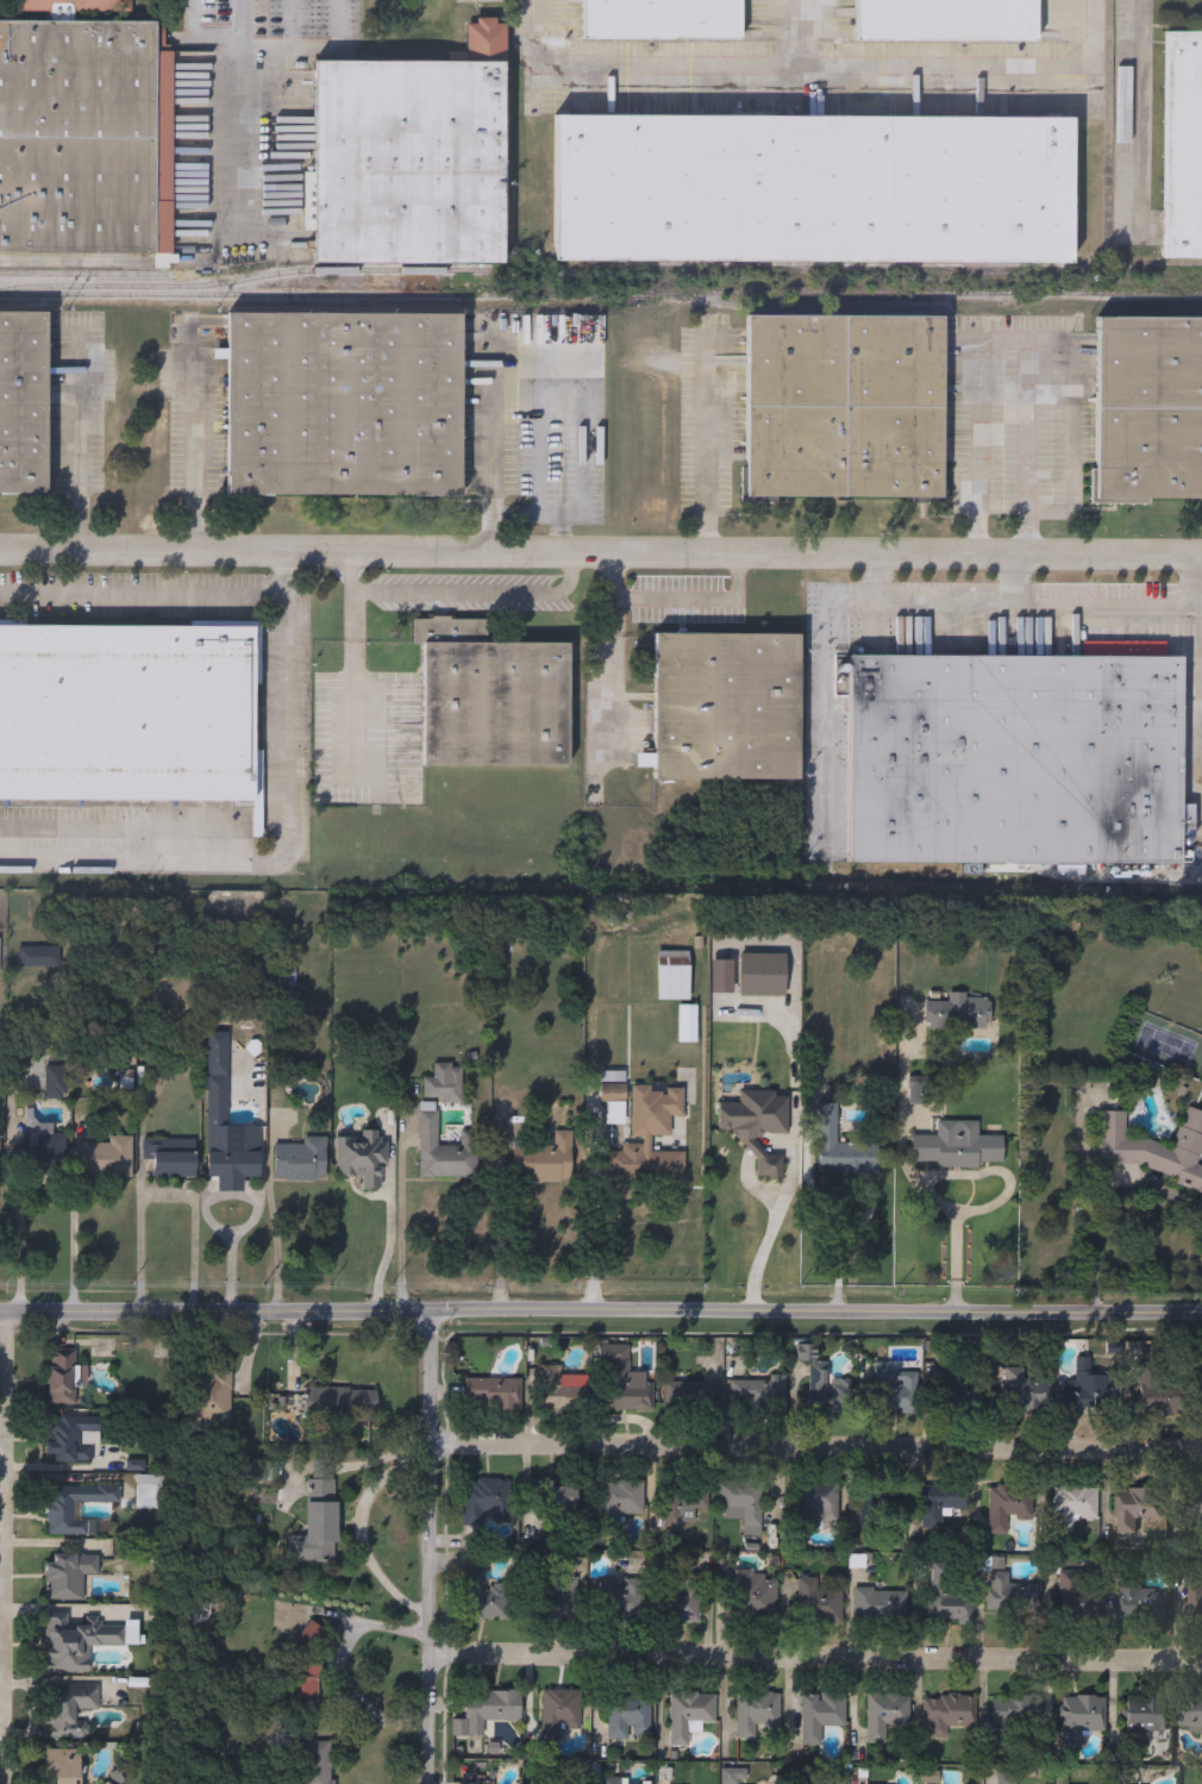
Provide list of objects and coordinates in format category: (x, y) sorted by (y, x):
building: (75, 4)
building: (662, 20)
building: (947, 20)
road: (196, 43)
road: (312, 44)
road: (668, 67)
road: (981, 67)
road: (1142, 112)
road: (240, 124)
building: (83, 138)
building: (1184, 144)
building: (412, 156)
building: (814, 189)
railway: (1175, 267)
railway: (90, 274)
railway: (246, 277)
railway: (601, 294)
railway: (797, 307)
road: (581, 330)
road: (1003, 338)
building: (23, 401)
building: (345, 405)
building: (844, 407)
building: (1148, 408)
road: (195, 442)
road: (706, 447)
road: (489, 452)
road: (515, 514)
road: (600, 553)
road: (1200, 581)
road: (1015, 582)
road: (142, 594)
road: (458, 595)
road: (676, 601)
road: (1015, 606)
road: (353, 684)
building: (492, 697)
building: (727, 707)
road: (1201, 707)
building: (126, 713)
building: (1015, 759)
road: (287, 850)
building: (39, 956)
building: (0, 958)
building: (764, 974)
building: (284, 975)
building: (675, 975)
building: (960, 1012)
building: (57, 1082)
building: (445, 1082)
building: (921, 1089)
building: (615, 1094)
building: (228, 1125)
building: (759, 1128)
building: (841, 1145)
building: (1154, 1147)
building: (46, 1148)
building: (958, 1148)
building: (447, 1150)
building: (107, 1157)
building: (174, 1157)
building: (363, 1157)
building: (302, 1159)
building: (546, 1159)
building: (0, 1163)
building: (655, 1164)
road: (904, 1169)
road: (1003, 1172)
road: (167, 1197)
road: (209, 1201)
road: (594, 1209)
road: (505, 1217)
road: (20, 1223)
road: (403, 1231)
road: (774, 1232)
road: (1091, 1237)
road: (75, 1247)
road: (230, 1248)
road: (847, 1248)
road: (390, 1252)
road: (600, 1309)
building: (62, 1378)
building: (626, 1388)
building: (555, 1390)
building: (893, 1390)
building: (1085, 1390)
building: (950, 1391)
building: (1020, 1391)
building: (826, 1394)
building: (493, 1395)
building: (690, 1395)
building: (757, 1395)
building: (1157, 1396)
building: (211, 1397)
road: (1, 1403)
building: (339, 1404)
building: (70, 1440)
road: (816, 1450)
building: (618, 1501)
building: (486, 1502)
building: (940, 1503)
building: (684, 1504)
building: (818, 1504)
building: (882, 1504)
building: (76, 1506)
building: (558, 1506)
building: (741, 1506)
building: (1071, 1508)
building: (1188, 1508)
building: (1135, 1509)
building: (1002, 1510)
building: (317, 1527)
road: (359, 1531)
road: (431, 1546)
building: (67, 1576)
building: (1008, 1592)
building: (753, 1595)
building: (482, 1598)
building: (684, 1598)
building: (1079, 1598)
building: (621, 1600)
building: (947, 1600)
building: (545, 1601)
building: (1140, 1602)
building: (818, 1603)
building: (879, 1604)
building: (1192, 1607)
building: (76, 1642)
road: (816, 1657)
road: (344, 1667)
building: (67, 1709)
building: (486, 1711)
building: (558, 1714)
building: (758, 1714)
building: (689, 1715)
building: (820, 1715)
building: (944, 1715)
building: (1190, 1716)
building: (887, 1717)
building: (628, 1719)
building: (1016, 1719)
building: (1079, 1719)
building: (1147, 1720)
building: (318, 1763)
building: (62, 1766)
building: (1006, 1774)
building: (483, 1782)
building: (611, 1782)
building: (559, 1783)
building: (822, 1783)

